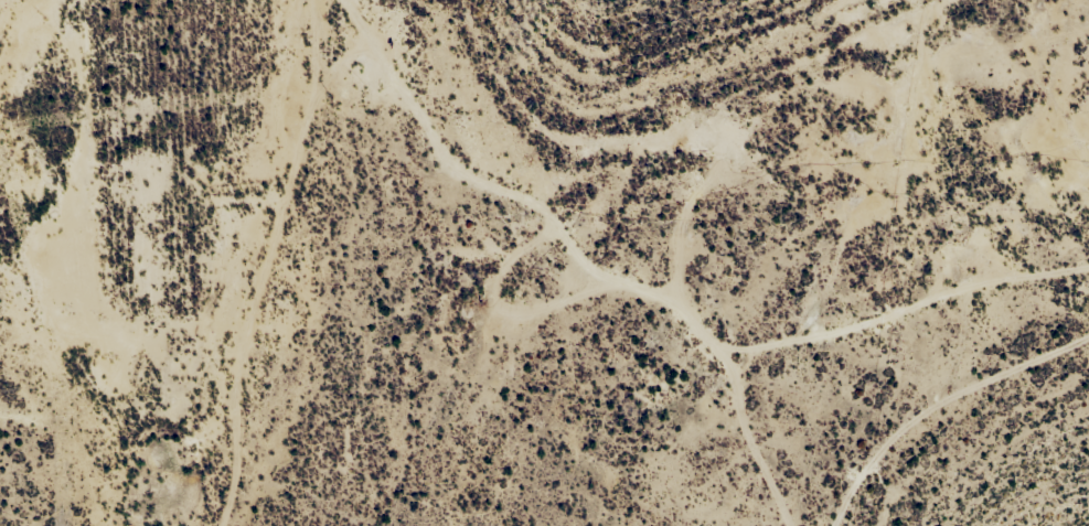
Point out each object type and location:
road: (243, 264)
road: (946, 419)

